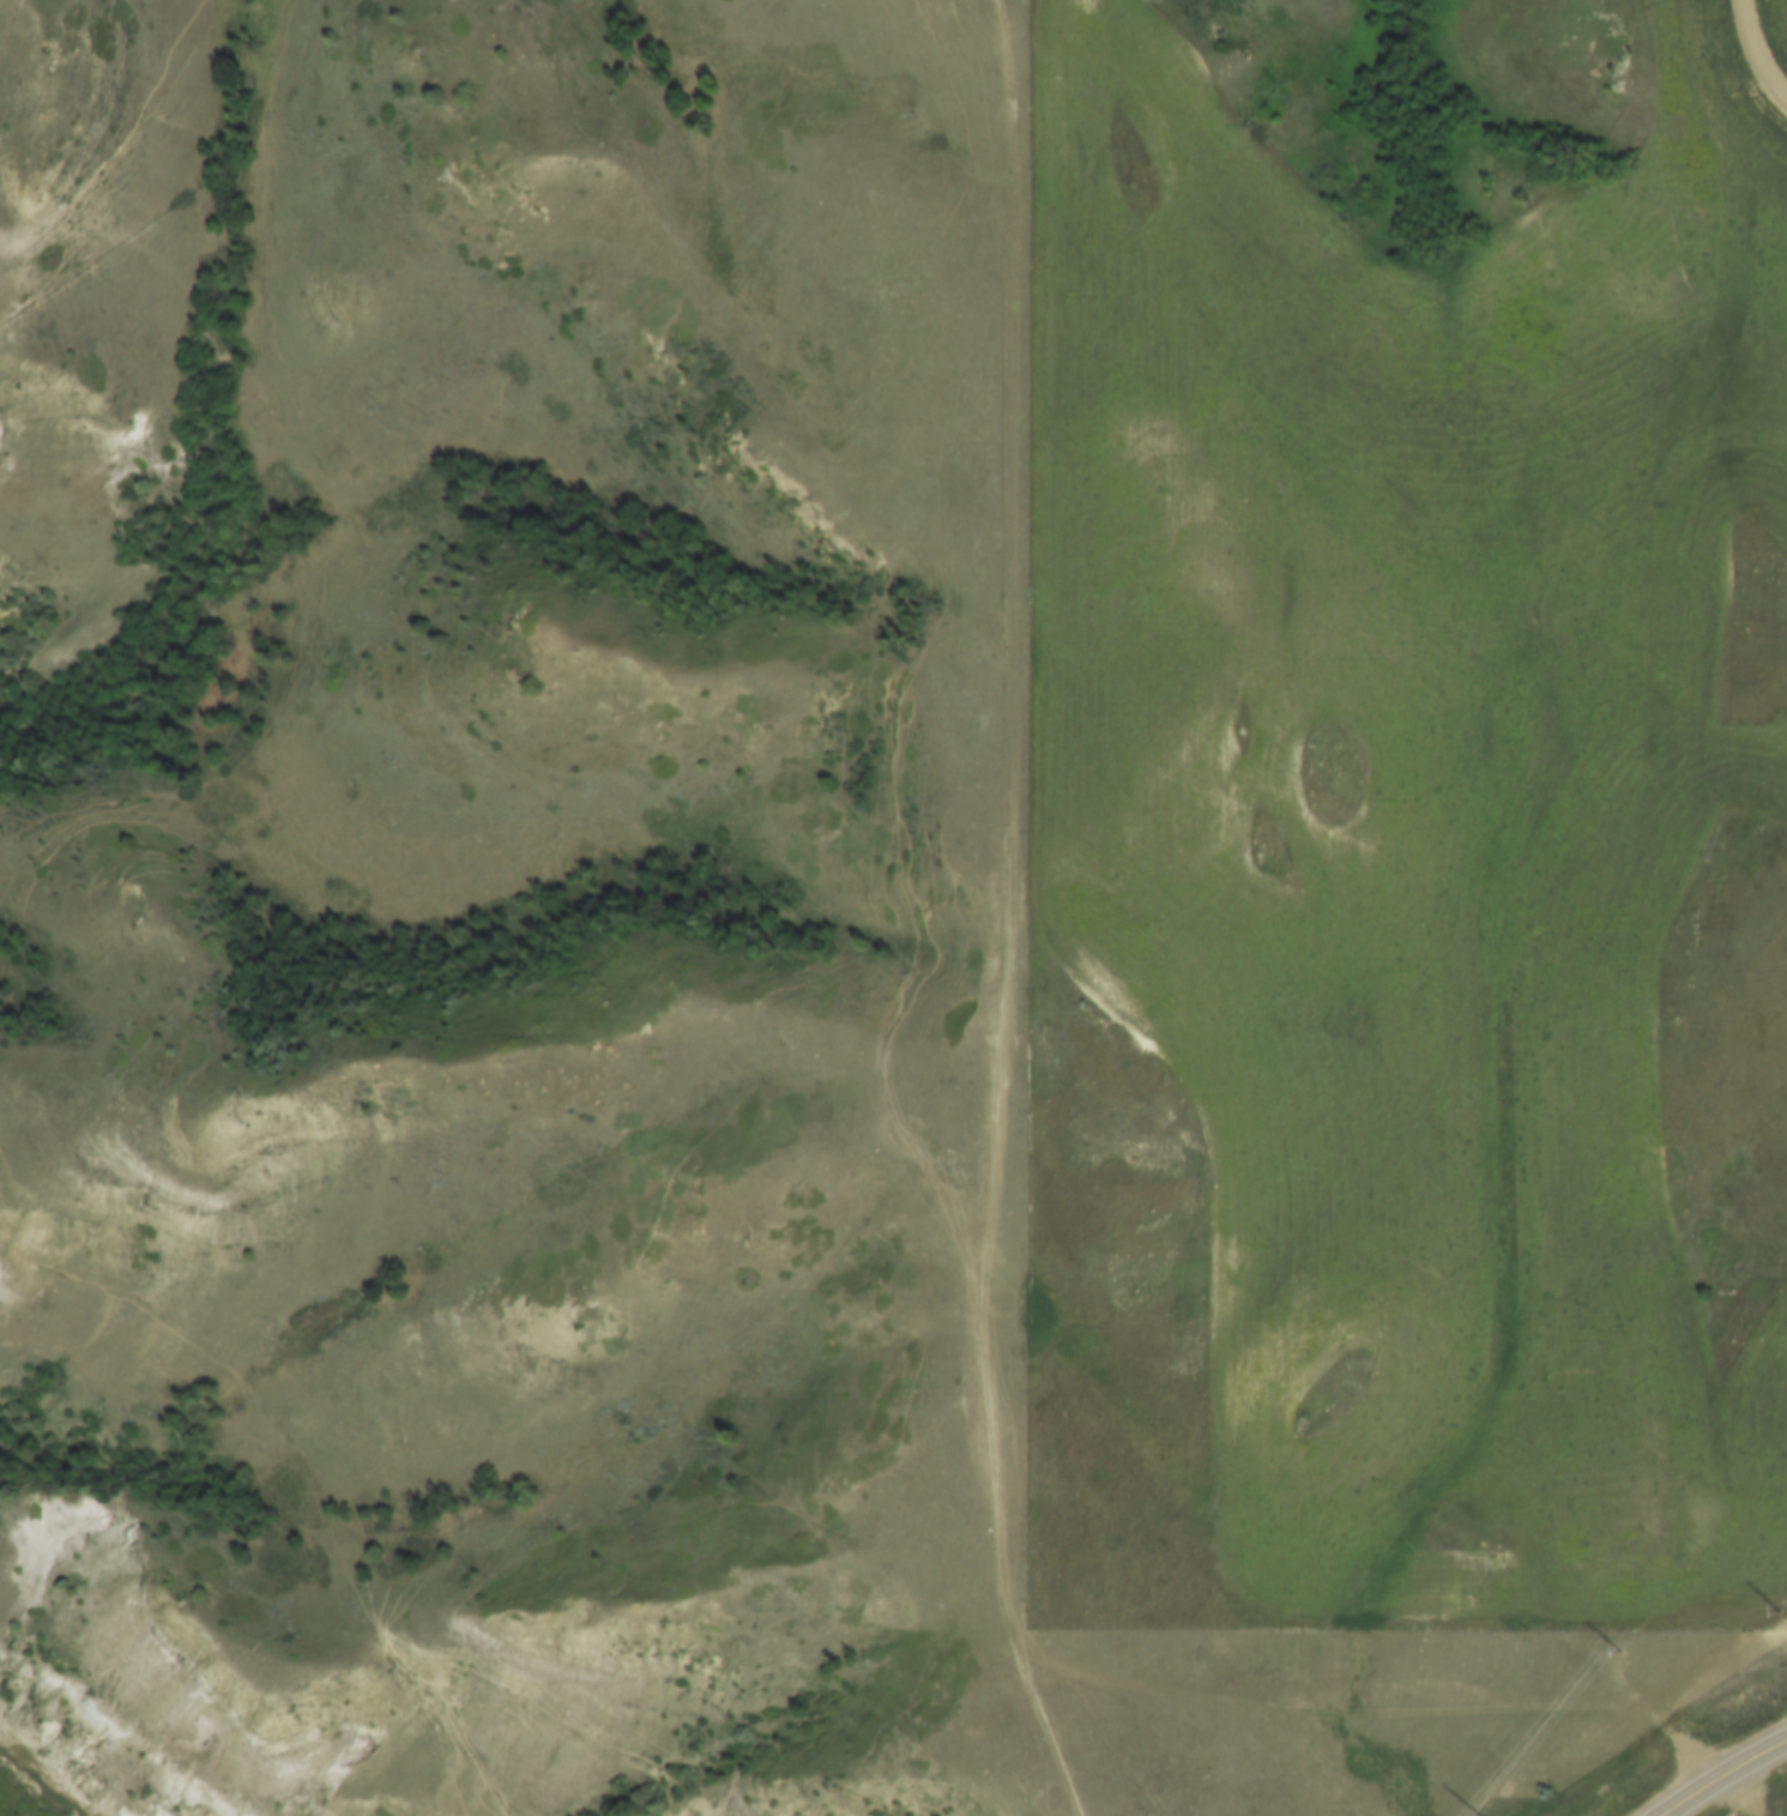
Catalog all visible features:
road: (1751, 61)
road: (1704, 1758)

